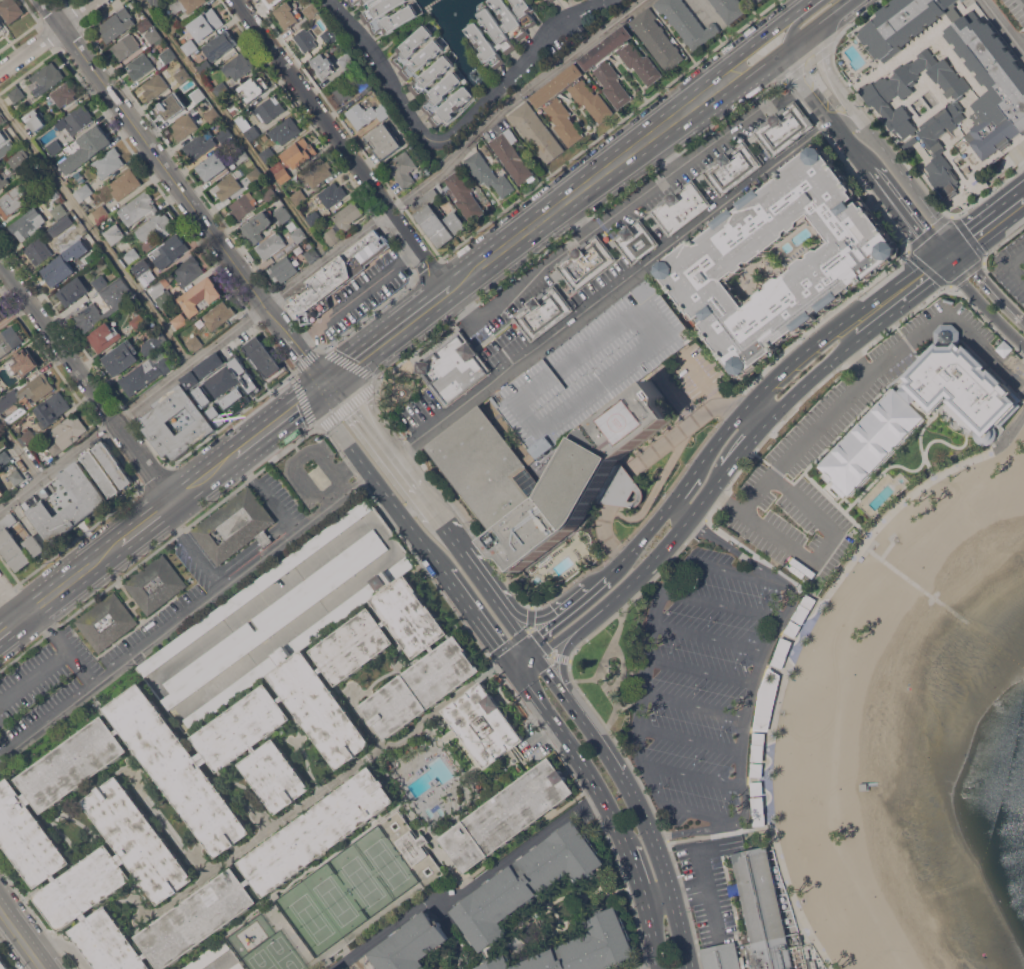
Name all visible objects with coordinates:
building: (265, 0)
building: (552, 0)
building: (269, 1)
building: (546, 1)
building: (756, 1)
road: (809, 1)
building: (157, 2)
road: (425, 4)
building: (187, 5)
building: (729, 9)
road: (833, 9)
parking lot: (1016, 9)
building: (11, 10)
building: (312, 11)
road: (51, 13)
building: (126, 15)
building: (288, 15)
building: (401, 17)
building: (687, 22)
road: (796, 22)
building: (175, 24)
building: (206, 24)
building: (901, 24)
building: (1, 25)
building: (146, 25)
road: (1004, 25)
building: (113, 28)
building: (502, 29)
road: (806, 31)
road: (400, 32)
road: (47, 35)
building: (154, 37)
road: (762, 38)
building: (314, 39)
building: (656, 39)
road: (1021, 40)
building: (222, 45)
building: (126, 47)
building: (191, 47)
building: (168, 56)
building: (347, 61)
road: (808, 63)
building: (238, 66)
building: (323, 66)
building: (140, 67)
road: (759, 67)
building: (205, 68)
building: (600, 68)
building: (48, 76)
building: (182, 76)
building: (430, 76)
building: (991, 85)
road: (804, 86)
building: (155, 87)
building: (254, 88)
building: (350, 88)
road: (792, 89)
building: (221, 90)
building: (886, 93)
building: (17, 94)
building: (65, 94)
building: (198, 95)
building: (550, 105)
building: (169, 107)
building: (269, 109)
building: (0, 111)
building: (236, 111)
building: (212, 115)
building: (367, 115)
building: (1, 119)
building: (36, 120)
building: (79, 120)
road: (850, 124)
building: (184, 127)
building: (248, 128)
road: (455, 128)
building: (783, 128)
road: (235, 129)
building: (285, 130)
road: (607, 130)
building: (536, 132)
road: (870, 134)
building: (225, 135)
building: (3, 138)
building: (384, 141)
building: (18, 143)
road: (891, 143)
road: (342, 145)
road: (850, 145)
building: (199, 146)
building: (55, 147)
building: (939, 147)
building: (7, 149)
building: (87, 150)
building: (299, 153)
road: (664, 153)
building: (267, 154)
building: (240, 155)
building: (510, 155)
building: (21, 161)
building: (108, 163)
road: (659, 165)
building: (213, 167)
building: (732, 167)
building: (403, 169)
building: (281, 171)
building: (316, 173)
building: (488, 174)
building: (256, 176)
building: (3, 182)
road: (587, 184)
building: (978, 184)
building: (126, 185)
road: (177, 185)
road: (1020, 185)
building: (229, 187)
building: (43, 189)
building: (84, 195)
building: (269, 195)
building: (333, 195)
building: (299, 196)
building: (465, 196)
building: (12, 201)
building: (244, 206)
building: (680, 207)
building: (139, 208)
road: (902, 209)
building: (60, 211)
building: (281, 212)
road: (984, 212)
building: (100, 214)
building: (347, 216)
building: (432, 217)
road: (576, 217)
road: (609, 217)
building: (314, 218)
building: (456, 222)
building: (27, 225)
building: (61, 225)
building: (258, 227)
building: (155, 228)
road: (95, 233)
road: (994, 233)
building: (114, 234)
building: (299, 235)
building: (329, 235)
traffic signals: (951, 237)
building: (636, 241)
road: (1001, 242)
road: (943, 244)
road: (915, 245)
building: (271, 246)
road: (958, 246)
building: (170, 251)
traffic signals: (935, 251)
building: (37, 252)
building: (312, 255)
building: (132, 256)
traffic signals: (966, 256)
road: (326, 259)
road: (941, 259)
building: (704, 261)
building: (586, 262)
road: (957, 262)
building: (63, 264)
road: (1012, 266)
parking lot: (1011, 267)
traffic signals: (948, 268)
building: (283, 269)
road: (426, 269)
building: (188, 270)
road: (942, 272)
building: (143, 274)
building: (337, 276)
building: (100, 282)
road: (995, 288)
road: (612, 290)
building: (73, 292)
building: (162, 295)
building: (200, 296)
road: (354, 297)
parking lot: (361, 298)
road: (436, 299)
building: (113, 306)
road: (985, 306)
road: (898, 307)
building: (543, 313)
building: (2, 314)
road: (368, 314)
building: (219, 316)
road: (934, 320)
building: (180, 321)
building: (139, 322)
road: (831, 328)
road: (391, 334)
building: (104, 337)
building: (9, 341)
building: (153, 344)
building: (195, 344)
building: (262, 355)
building: (122, 358)
building: (22, 364)
building: (210, 365)
road: (309, 365)
building: (453, 367)
building: (593, 367)
parking lot: (593, 367)
road: (341, 372)
building: (145, 375)
building: (243, 375)
road: (699, 377)
road: (898, 378)
building: (190, 379)
road: (804, 380)
road: (86, 381)
building: (222, 382)
traffic signals: (325, 385)
building: (39, 388)
road: (299, 389)
building: (0, 395)
building: (203, 397)
building: (9, 400)
building: (234, 402)
road: (727, 408)
building: (52, 409)
building: (17, 414)
building: (981, 414)
building: (215, 416)
road: (231, 419)
road: (278, 419)
road: (851, 421)
building: (156, 422)
road: (745, 422)
road: (818, 424)
road: (335, 425)
building: (73, 427)
building: (28, 435)
road: (378, 436)
road: (715, 442)
building: (55, 447)
road: (739, 448)
road: (20, 450)
road: (315, 450)
building: (4, 458)
building: (114, 464)
road: (241, 466)
road: (637, 468)
road: (348, 469)
building: (101, 472)
parking lot: (315, 472)
building: (492, 474)
building: (17, 477)
road: (155, 478)
road: (202, 478)
road: (717, 478)
road: (380, 487)
road: (684, 487)
building: (0, 494)
road: (446, 500)
building: (91, 502)
road: (699, 504)
road: (835, 504)
road: (272, 505)
road: (411, 506)
road: (744, 509)
road: (679, 511)
building: (354, 515)
road: (170, 521)
road: (641, 522)
building: (235, 526)
road: (139, 527)
building: (739, 527)
road: (76, 537)
road: (638, 540)
road: (403, 541)
building: (12, 543)
road: (423, 543)
building: (35, 545)
road: (822, 546)
road: (157, 548)
road: (733, 548)
road: (459, 551)
road: (674, 554)
road: (762, 560)
road: (200, 561)
road: (643, 564)
road: (733, 571)
road: (907, 579)
road: (600, 582)
road: (64, 584)
building: (156, 584)
road: (6, 592)
road: (11, 601)
road: (724, 606)
building: (289, 608)
road: (565, 612)
road: (476, 615)
road: (185, 616)
road: (547, 616)
building: (331, 617)
road: (530, 618)
road: (43, 619)
building: (107, 621)
road: (510, 624)
road: (12, 625)
road: (565, 632)
road: (522, 633)
road: (710, 637)
road: (531, 641)
traffic signals: (525, 645)
road: (795, 648)
road: (528, 650)
road: (516, 652)
road: (606, 654)
traffic signals: (532, 655)
road: (73, 656)
road: (647, 656)
road: (559, 657)
traffic signals: (507, 659)
road: (523, 662)
road: (510, 664)
traffic signals: (514, 669)
road: (490, 670)
road: (701, 670)
road: (34, 675)
road: (757, 676)
road: (583, 678)
building: (246, 680)
parking lot: (704, 680)
road: (615, 686)
parking lot: (33, 690)
road: (575, 694)
building: (766, 700)
road: (693, 706)
road: (577, 719)
building: (485, 725)
road: (690, 739)
road: (576, 755)
road: (423, 758)
building: (65, 771)
road: (691, 774)
building: (757, 803)
road: (676, 806)
building: (507, 814)
road: (714, 827)
road: (718, 834)
building: (412, 849)
park: (387, 863)
road: (663, 873)
road: (636, 877)
park: (362, 881)
road: (469, 887)
building: (512, 889)
road: (707, 892)
road: (675, 898)
park: (336, 899)
building: (764, 913)
park: (309, 919)
road: (650, 937)
road: (21, 939)
road: (64, 943)
building: (411, 944)
park: (283, 953)
building: (721, 956)
park: (259, 960)
building: (3, 964)
road: (221, 964)

